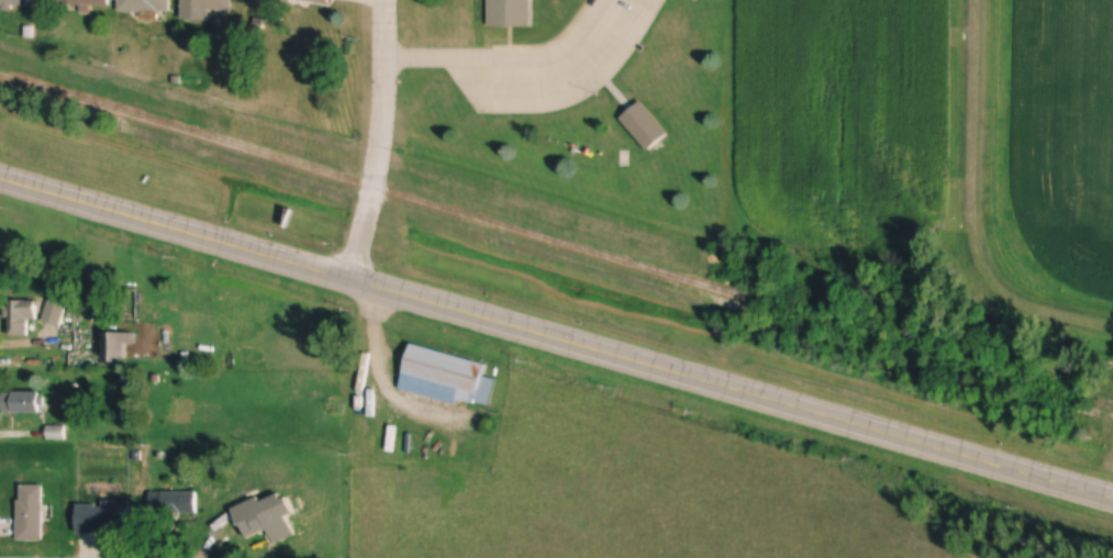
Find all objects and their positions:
building: (313, 1)
building: (82, 3)
building: (14, 4)
building: (208, 4)
building: (145, 7)
building: (509, 12)
road: (504, 62)
building: (645, 124)
road: (381, 139)
road: (264, 253)
building: (38, 313)
building: (123, 343)
building: (444, 369)
building: (22, 401)
road: (821, 413)
building: (179, 502)
building: (31, 511)
building: (104, 516)
building: (267, 516)

